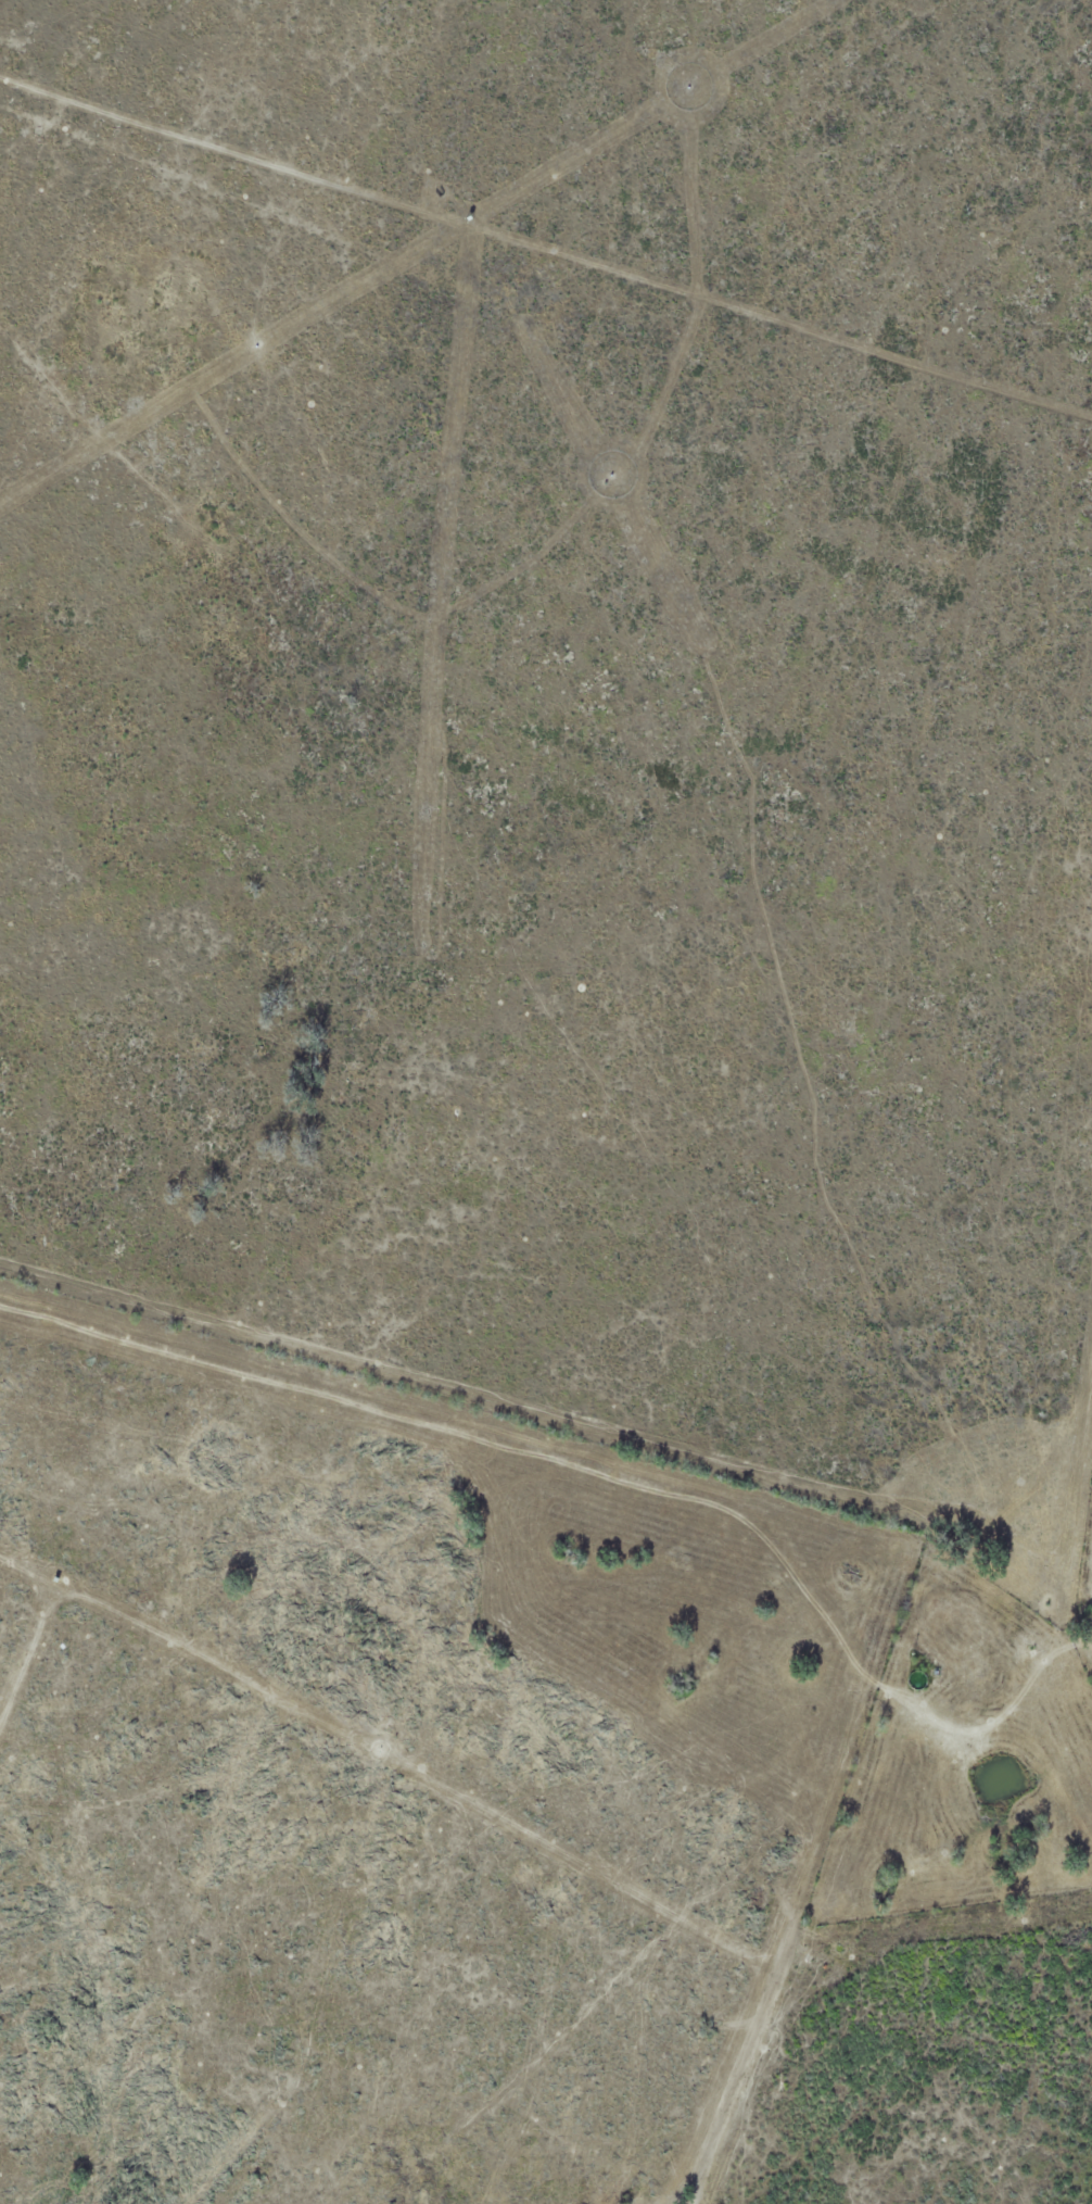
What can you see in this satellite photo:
road: (594, 1473)
road: (1090, 1677)
road: (1090, 1711)

